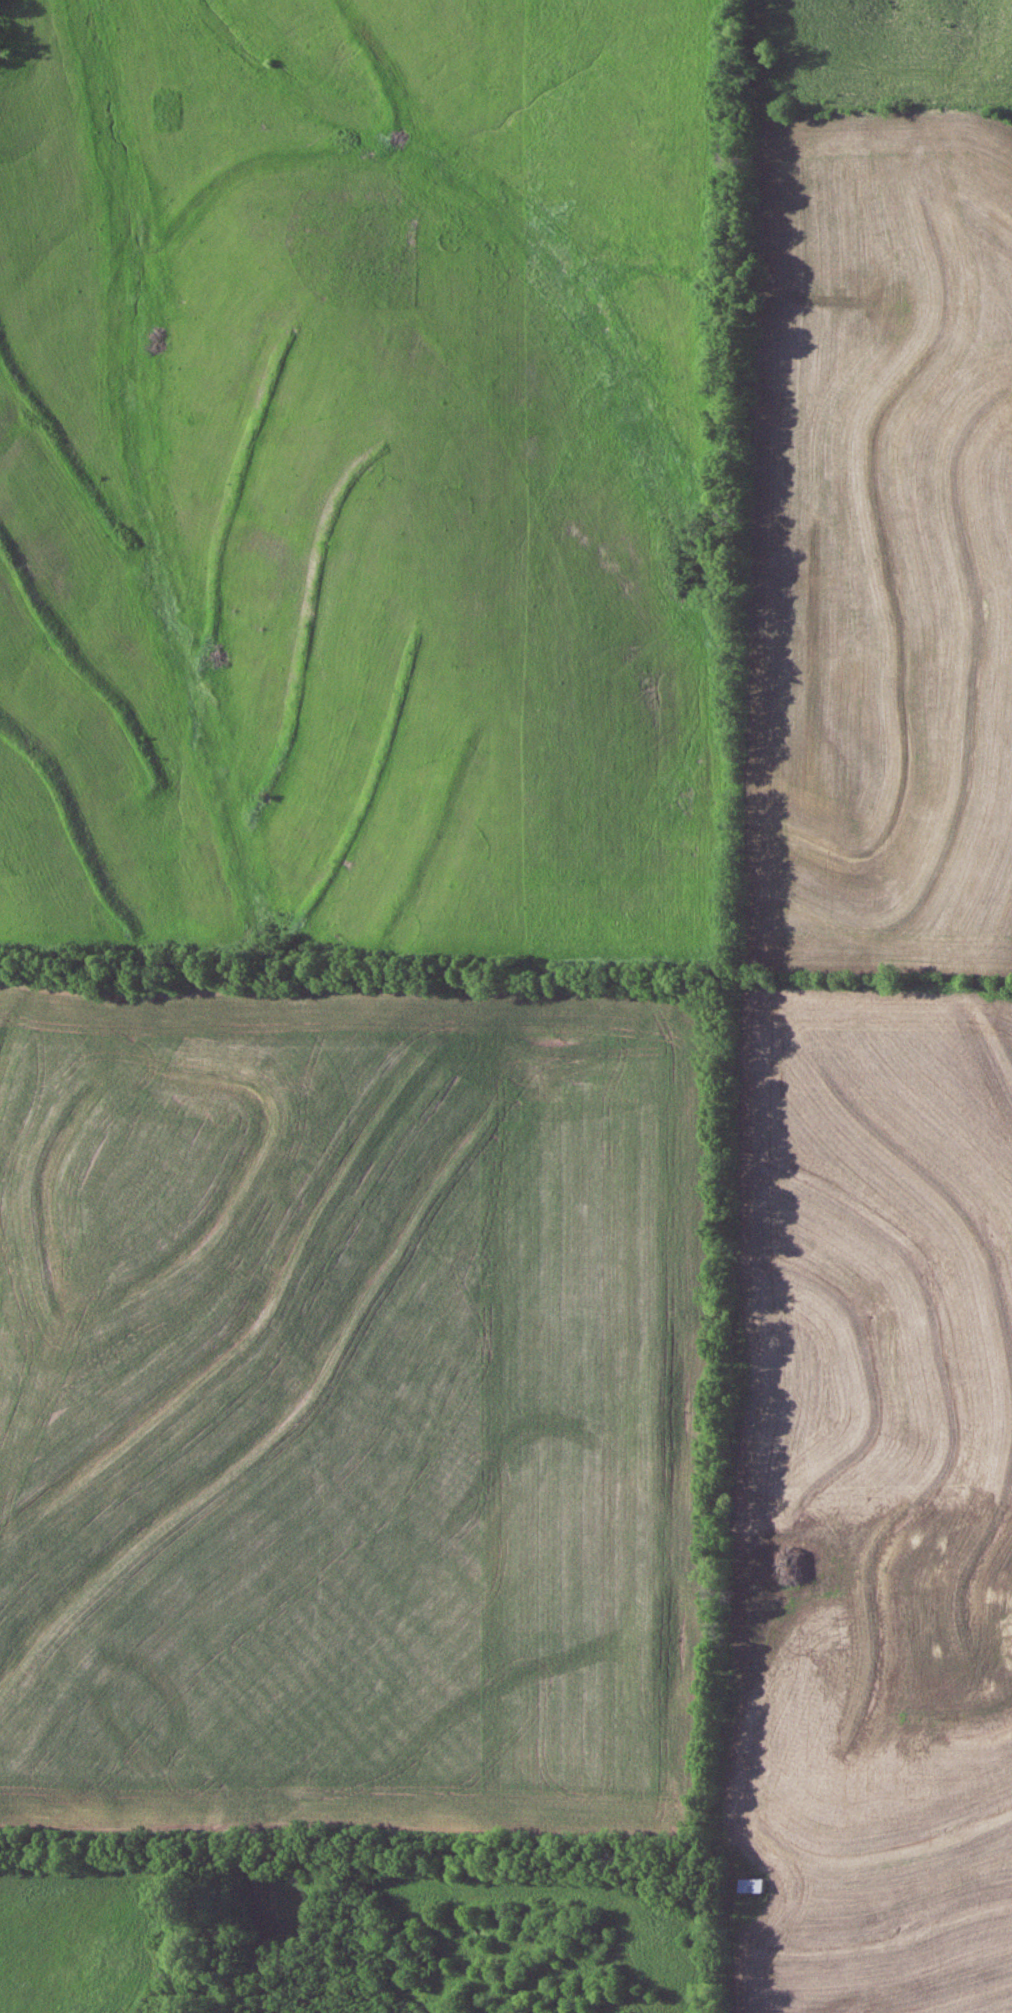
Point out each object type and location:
building: (752, 1885)

